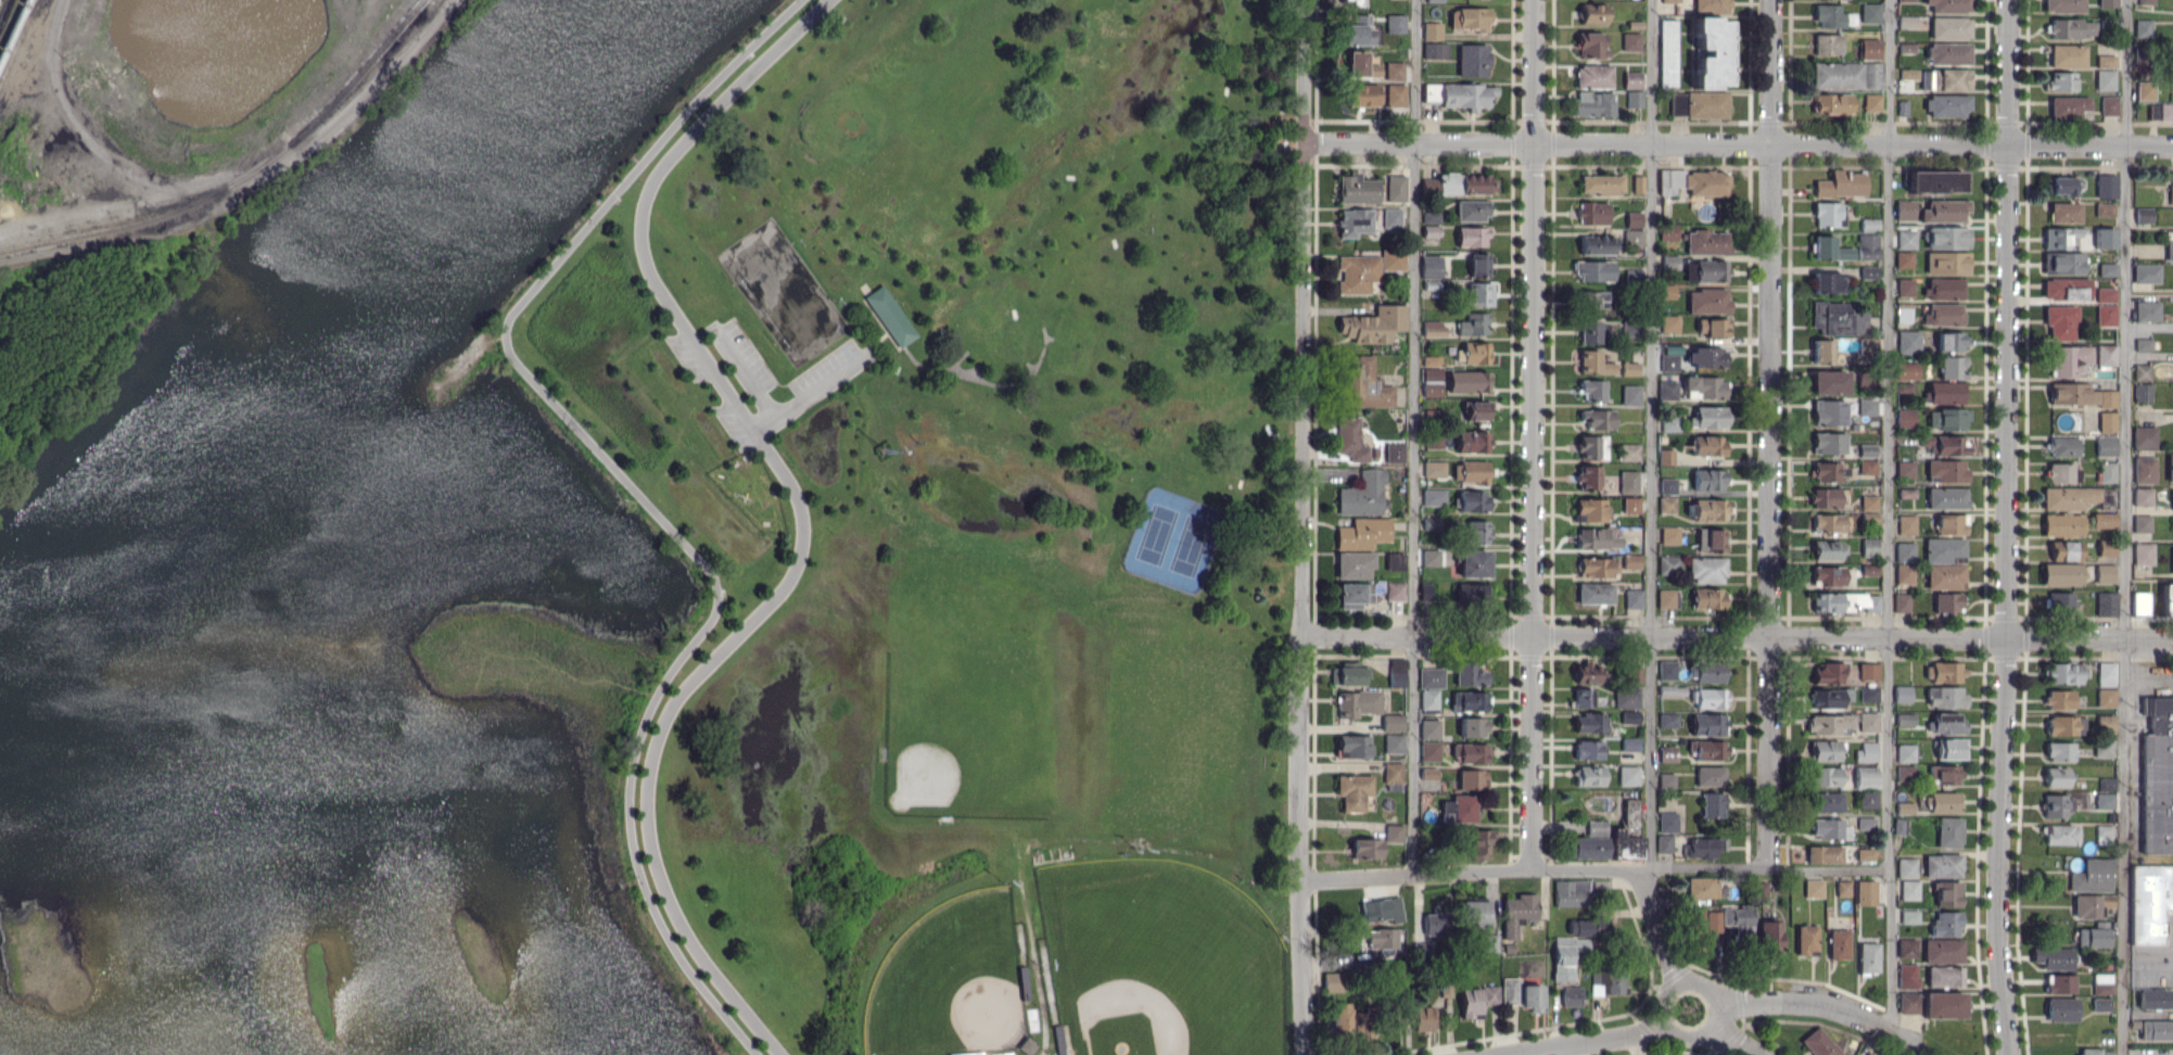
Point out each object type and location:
building: (1906, 0)
building: (1669, 1)
building: (2146, 1)
building: (1351, 2)
building: (2107, 3)
building: (1711, 5)
building: (1948, 5)
building: (2063, 5)
building: (1869, 12)
building: (1592, 13)
building: (1832, 16)
building: (1470, 17)
building: (1395, 23)
railway: (12, 26)
building: (1949, 27)
building: (2071, 28)
building: (2143, 28)
building: (1357, 29)
building: (1432, 30)
building: (1630, 40)
building: (1827, 43)
building: (1590, 45)
building: (1868, 48)
building: (1435, 50)
building: (1667, 52)
building: (1710, 52)
building: (1948, 53)
building: (2067, 55)
building: (1473, 60)
building: (2106, 60)
building: (1360, 65)
building: (1394, 71)
building: (1908, 73)
building: (1845, 75)
building: (1593, 76)
building: (1631, 79)
building: (2105, 79)
building: (2061, 80)
building: (2145, 90)
building: (1361, 94)
building: (1395, 94)
building: (1459, 94)
building: (1634, 98)
building: (1871, 102)
building: (1593, 103)
building: (1677, 103)
building: (1831, 103)
building: (1706, 104)
building: (1947, 104)
building: (2068, 105)
building: (2109, 105)
building: (2164, 112)
road: (1738, 143)
railway: (243, 178)
building: (1693, 181)
building: (1934, 181)
building: (1461, 183)
building: (1601, 183)
building: (1637, 183)
building: (1841, 183)
building: (2059, 185)
building: (2106, 186)
building: (1396, 188)
building: (1357, 189)
building: (2171, 194)
road: (646, 195)
building: (1905, 209)
building: (1944, 209)
building: (2104, 209)
building: (1472, 211)
building: (1592, 212)
building: (2064, 212)
building: (1829, 214)
building: (2143, 214)
building: (1431, 216)
building: (1392, 217)
building: (1632, 219)
building: (1354, 221)
building: (1868, 225)
building: (1667, 231)
building: (1471, 236)
building: (1632, 237)
building: (1947, 237)
building: (2059, 237)
building: (2105, 237)
building: (1906, 239)
building: (1706, 242)
building: (1596, 244)
building: (1867, 245)
building: (1829, 249)
building: (2169, 250)
building: (1393, 258)
building: (1903, 258)
building: (1669, 262)
building: (1947, 262)
building: (2062, 263)
building: (1478, 264)
building: (1431, 266)
building: (2107, 268)
building: (1593, 270)
building: (1706, 270)
building: (1869, 271)
building: (1358, 272)
building: (2146, 272)
building: (1632, 275)
building: (1827, 281)
building: (1905, 287)
building: (1945, 288)
building: (2066, 289)
building: (1666, 291)
building: (1479, 293)
building: (2105, 294)
building: (1589, 300)
building: (1707, 300)
building: (2146, 310)
building: (1903, 312)
building: (1943, 314)
building: (2106, 315)
building: (890, 316)
building: (1832, 317)
building: (2060, 321)
building: (1668, 322)
building: (1859, 322)
building: (1373, 323)
building: (1473, 323)
building: (1711, 326)
building: (1433, 329)
building: (1630, 329)
building: (1591, 331)
building: (1907, 341)
building: (1950, 341)
building: (2143, 344)
building: (1672, 348)
building: (1821, 351)
building: (1475, 352)
building: (2105, 354)
building: (1705, 356)
building: (2068, 359)
building: (1429, 360)
building: (1593, 363)
building: (1668, 363)
building: (1952, 367)
building: (1629, 368)
building: (1906, 370)
building: (2142, 371)
road: (748, 374)
building: (1467, 381)
building: (1828, 381)
building: (1431, 382)
building: (1367, 384)
building: (1705, 385)
building: (1904, 386)
building: (1667, 389)
road: (809, 390)
building: (1592, 390)
building: (1945, 392)
building: (2142, 392)
building: (2079, 394)
building: (1630, 395)
building: (1867, 406)
building: (1476, 410)
building: (1828, 411)
building: (1707, 417)
building: (1905, 417)
building: (1947, 418)
building: (1597, 419)
building: (2107, 421)
building: (1669, 423)
road: (1651, 433)
road: (1768, 433)
road: (1532, 434)
building: (2144, 436)
road: (1414, 437)
building: (1350, 438)
building: (1472, 441)
building: (1828, 442)
building: (1944, 444)
building: (1707, 445)
building: (2106, 445)
building: (1592, 446)
building: (2062, 446)
building: (1867, 449)
building: (1629, 452)
building: (1395, 453)
building: (1666, 456)
building: (1867, 467)
building: (2170, 467)
building: (1434, 468)
building: (1905, 468)
building: (2144, 469)
building: (1470, 470)
building: (1827, 470)
building: (1946, 470)
building: (2107, 471)
building: (2062, 472)
building: (1587, 476)
building: (1708, 479)
building: (1628, 482)
building: (1667, 485)
road: (635, 492)
building: (1362, 494)
building: (1434, 496)
building: (2142, 496)
building: (1825, 497)
building: (1946, 497)
building: (2077, 497)
building: (2171, 499)
building: (1471, 500)
building: (1868, 501)
building: (1666, 504)
building: (1630, 505)
building: (1591, 509)
building: (1868, 517)
road: (1889, 518)
road: (805, 520)
building: (2102, 520)
park: (954, 521)
building: (1828, 522)
building: (1950, 523)
building: (2142, 523)
building: (1906, 524)
building: (2062, 524)
road: (1304, 527)
road: (2005, 527)
road: (2125, 527)
building: (1476, 532)
building: (1362, 533)
building: (1669, 535)
park: (1173, 538)
building: (1597, 538)
building: (1710, 539)
building: (1869, 546)
building: (1826, 549)
building: (1944, 550)
building: (2063, 550)
building: (1904, 551)
building: (2143, 554)
building: (1431, 557)
building: (2172, 559)
building: (1395, 560)
building: (1631, 561)
building: (1473, 563)
building: (1354, 564)
building: (1668, 564)
building: (1594, 567)
building: (1706, 570)
building: (1904, 573)
building: (2104, 573)
building: (1827, 574)
building: (2061, 574)
building: (1945, 575)
building: (1395, 590)
building: (1594, 593)
building: (1354, 594)
building: (1472, 595)
building: (1707, 597)
building: (1632, 598)
building: (1667, 598)
building: (2166, 599)
building: (1844, 601)
building: (1901, 601)
building: (1947, 601)
building: (2060, 601)
building: (2139, 602)
building: (2106, 603)
road: (1738, 635)
building: (1666, 670)
building: (1868, 671)
building: (1397, 672)
building: (1705, 672)
building: (1826, 672)
building: (1943, 672)
building: (1347, 673)
building: (1470, 673)
building: (1586, 673)
building: (1634, 673)
building: (2063, 673)
building: (2106, 673)
building: (1431, 677)
road: (2149, 684)
building: (1868, 692)
building: (1902, 694)
building: (1944, 696)
building: (1626, 697)
building: (1829, 697)
building: (2105, 697)
building: (1587, 698)
building: (1708, 698)
building: (1428, 699)
building: (2059, 699)
building: (1469, 701)
building: (1357, 702)
building: (1629, 716)
building: (1904, 719)
building: (1667, 720)
building: (1393, 722)
building: (1868, 722)
building: (1590, 723)
building: (1829, 723)
building: (1945, 723)
building: (2105, 723)
building: (1708, 724)
building: (2064, 725)
building: (1473, 726)
building: (1429, 728)
building: (1394, 742)
building: (1352, 746)
building: (1950, 748)
building: (2102, 748)
building: (1588, 749)
building: (1707, 749)
building: (1429, 750)
building: (1823, 750)
building: (2059, 751)
building: (1470, 752)
building: (1866, 752)
building: (1905, 752)
building: (1667, 753)
building: (1428, 772)
building: (1905, 772)
building: (1393, 773)
building: (1943, 774)
building: (1588, 775)
building: (1628, 775)
building: (1710, 775)
building: (1823, 776)
building: (1865, 776)
building: (2056, 776)
building: (2157, 776)
building: (1472, 778)
building: (1665, 780)
building: (2106, 784)
building: (1352, 790)
building: (1867, 799)
building: (2104, 800)
building: (1826, 802)
building: (1943, 802)
building: (1712, 804)
building: (2057, 805)
building: (1459, 809)
building: (1667, 822)
building: (1866, 823)
building: (1596, 827)
building: (1828, 828)
building: (1948, 831)
building: (1394, 832)
building: (2061, 834)
building: (2102, 834)
road: (652, 835)
building: (1664, 843)
building: (1478, 844)
building: (1624, 846)
building: (1587, 847)
building: (1365, 848)
building: (1701, 848)
building: (1823, 854)
building: (1865, 854)
building: (1942, 865)
building: (1906, 867)
road: (1534, 868)
road: (1829, 868)
building: (2092, 876)
building: (1704, 887)
building: (1813, 888)
building: (1843, 888)
building: (1909, 889)
building: (1571, 892)
building: (1866, 892)
building: (1947, 893)
building: (2149, 902)
building: (2092, 905)
building: (1382, 910)
building: (1474, 912)
building: (1517, 913)
building: (1909, 916)
building: (1706, 921)
building: (1435, 923)
building: (1946, 924)
road: (1661, 925)
building: (1587, 926)
building: (2093, 935)
building: (1770, 937)
building: (1381, 938)
building: (1806, 940)
building: (1489, 942)
building: (1839, 943)
building: (1906, 948)
building: (1422, 949)
building: (1943, 951)
building: (1565, 955)
building: (1868, 957)
building: (2053, 957)
park: (1155, 961)
building: (1907, 976)
building: (1944, 976)
park: (952, 981)
building: (1333, 981)
building: (1607, 981)
building: (2060, 983)
building: (2101, 983)
building: (1521, 993)
building: (1571, 995)
building: (2156, 997)
building: (1476, 1000)
building: (1908, 1002)
building: (1942, 1004)
building: (2100, 1004)
road: (1826, 1005)
building: (2060, 1008)
road: (1719, 1012)
building: (1423, 1018)
building: (1338, 1020)
building: (1361, 1024)
building: (2156, 1029)
road: (1586, 1040)
road: (1736, 1042)
road: (1639, 1043)
building: (1818, 1043)
building: (2088, 1051)
building: (1866, 1054)

